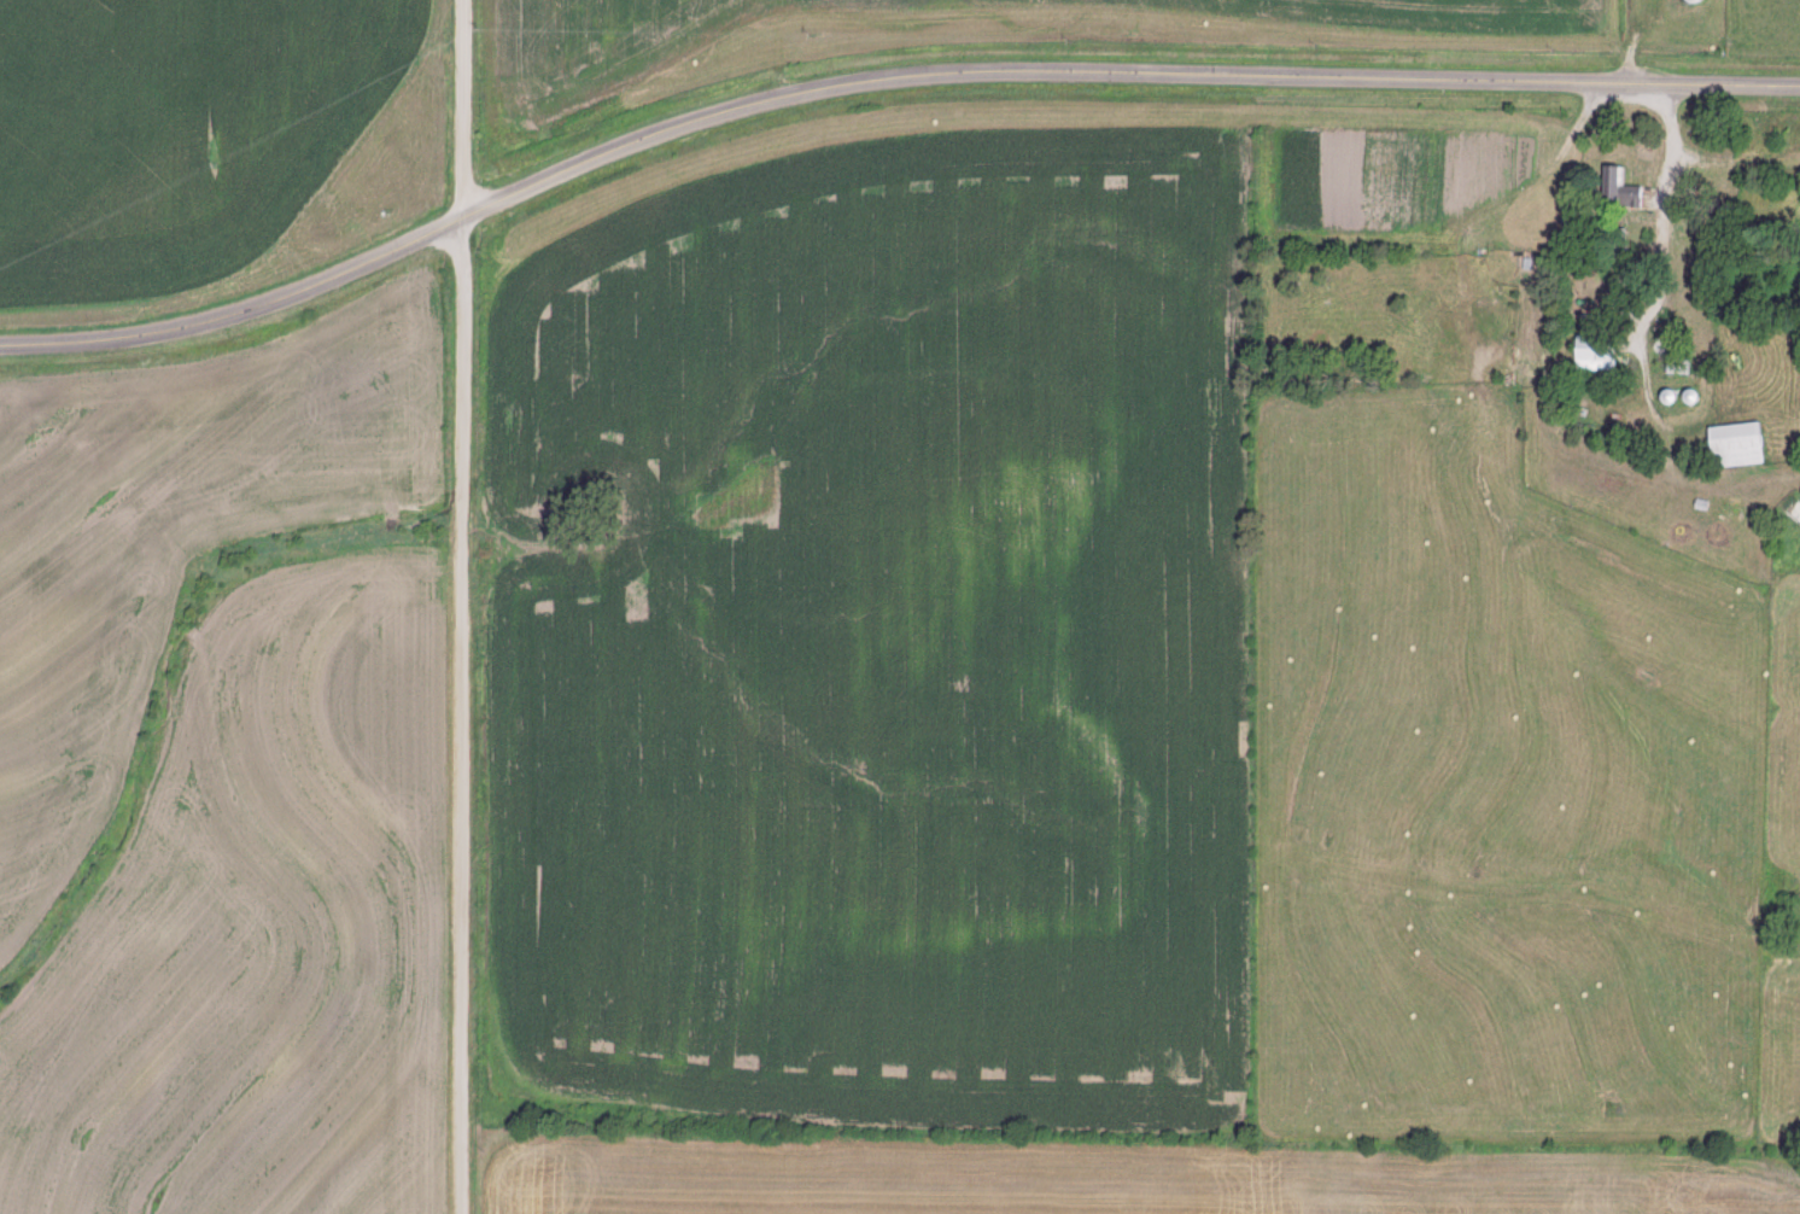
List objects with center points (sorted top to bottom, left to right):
building: (1689, 1)
road: (876, 77)
building: (1614, 187)
building: (1590, 351)
building: (1731, 444)
road: (454, 606)

